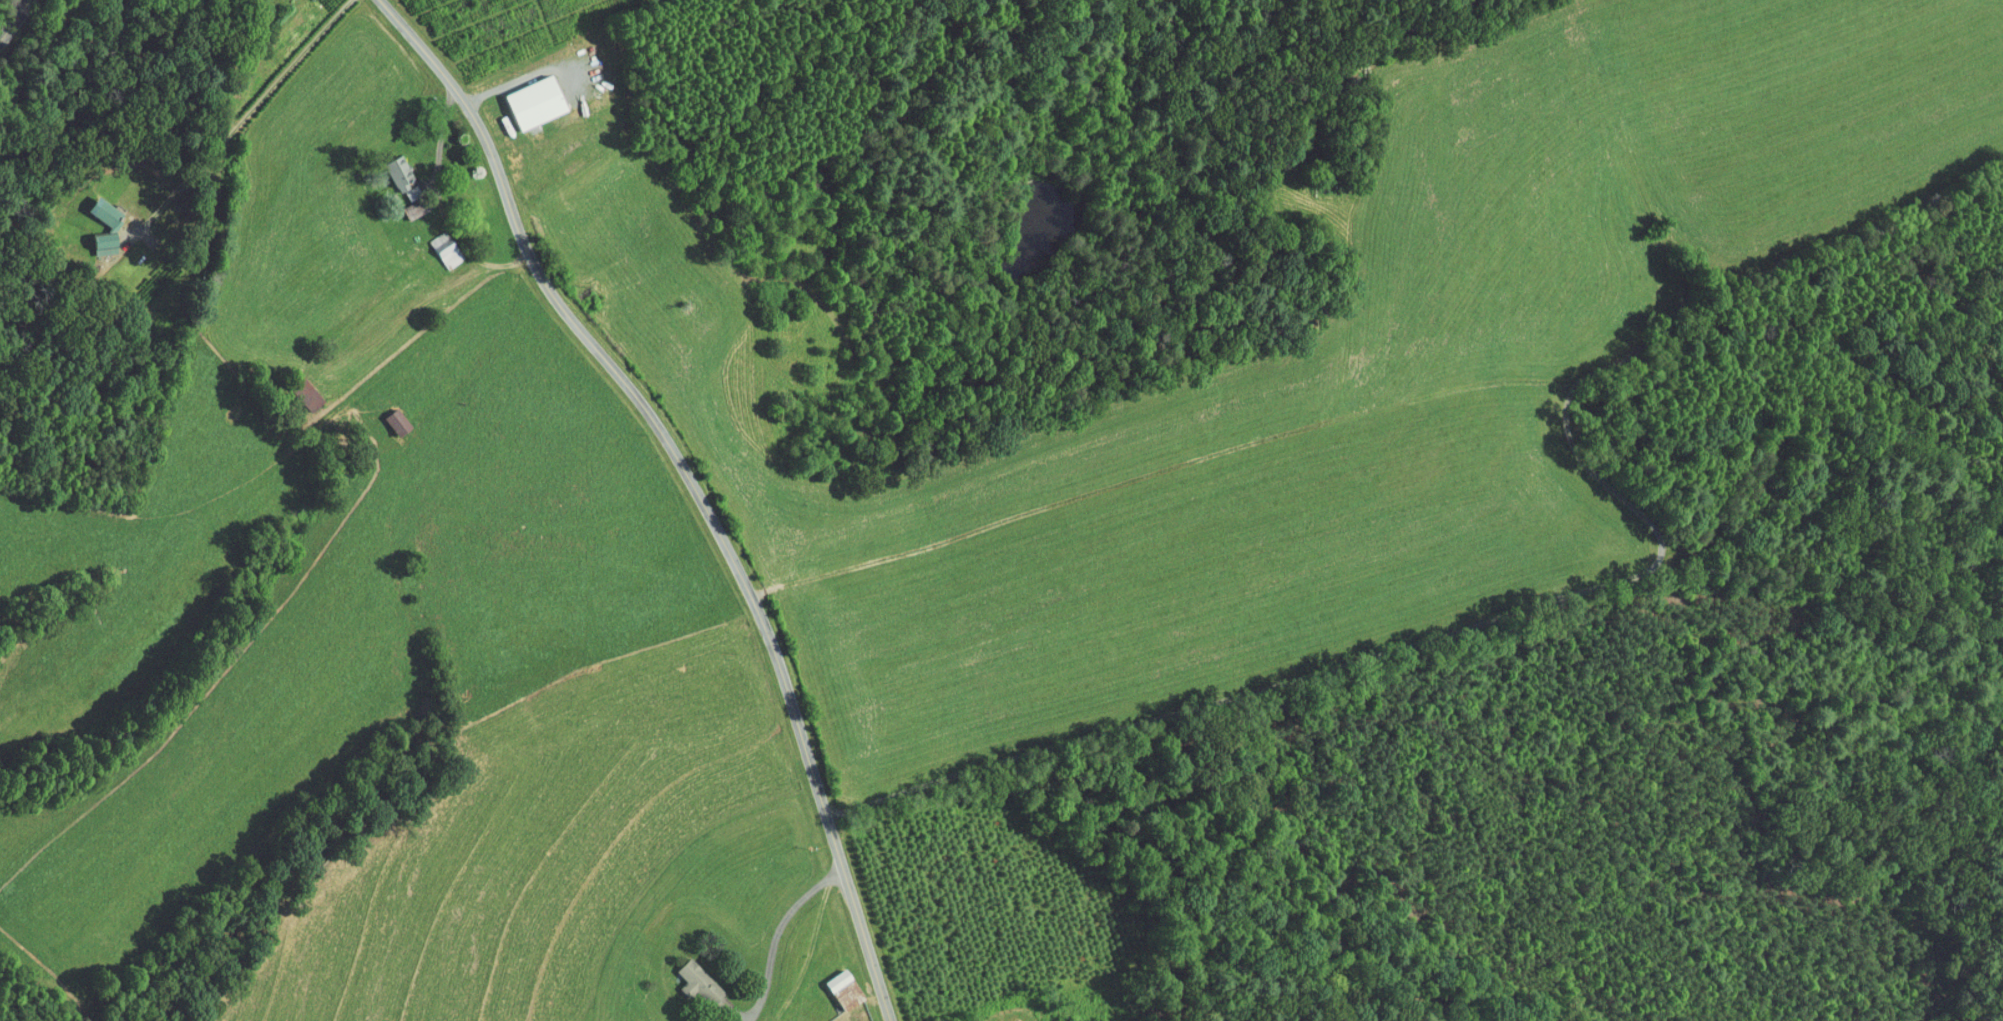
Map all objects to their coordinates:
road: (16, 20)
building: (518, 96)
road: (247, 111)
building: (383, 166)
building: (97, 217)
building: (430, 244)
building: (290, 386)
building: (380, 415)
road: (692, 481)
road: (1576, 560)
road: (776, 931)
building: (682, 974)
building: (827, 982)
building: (818, 1020)

